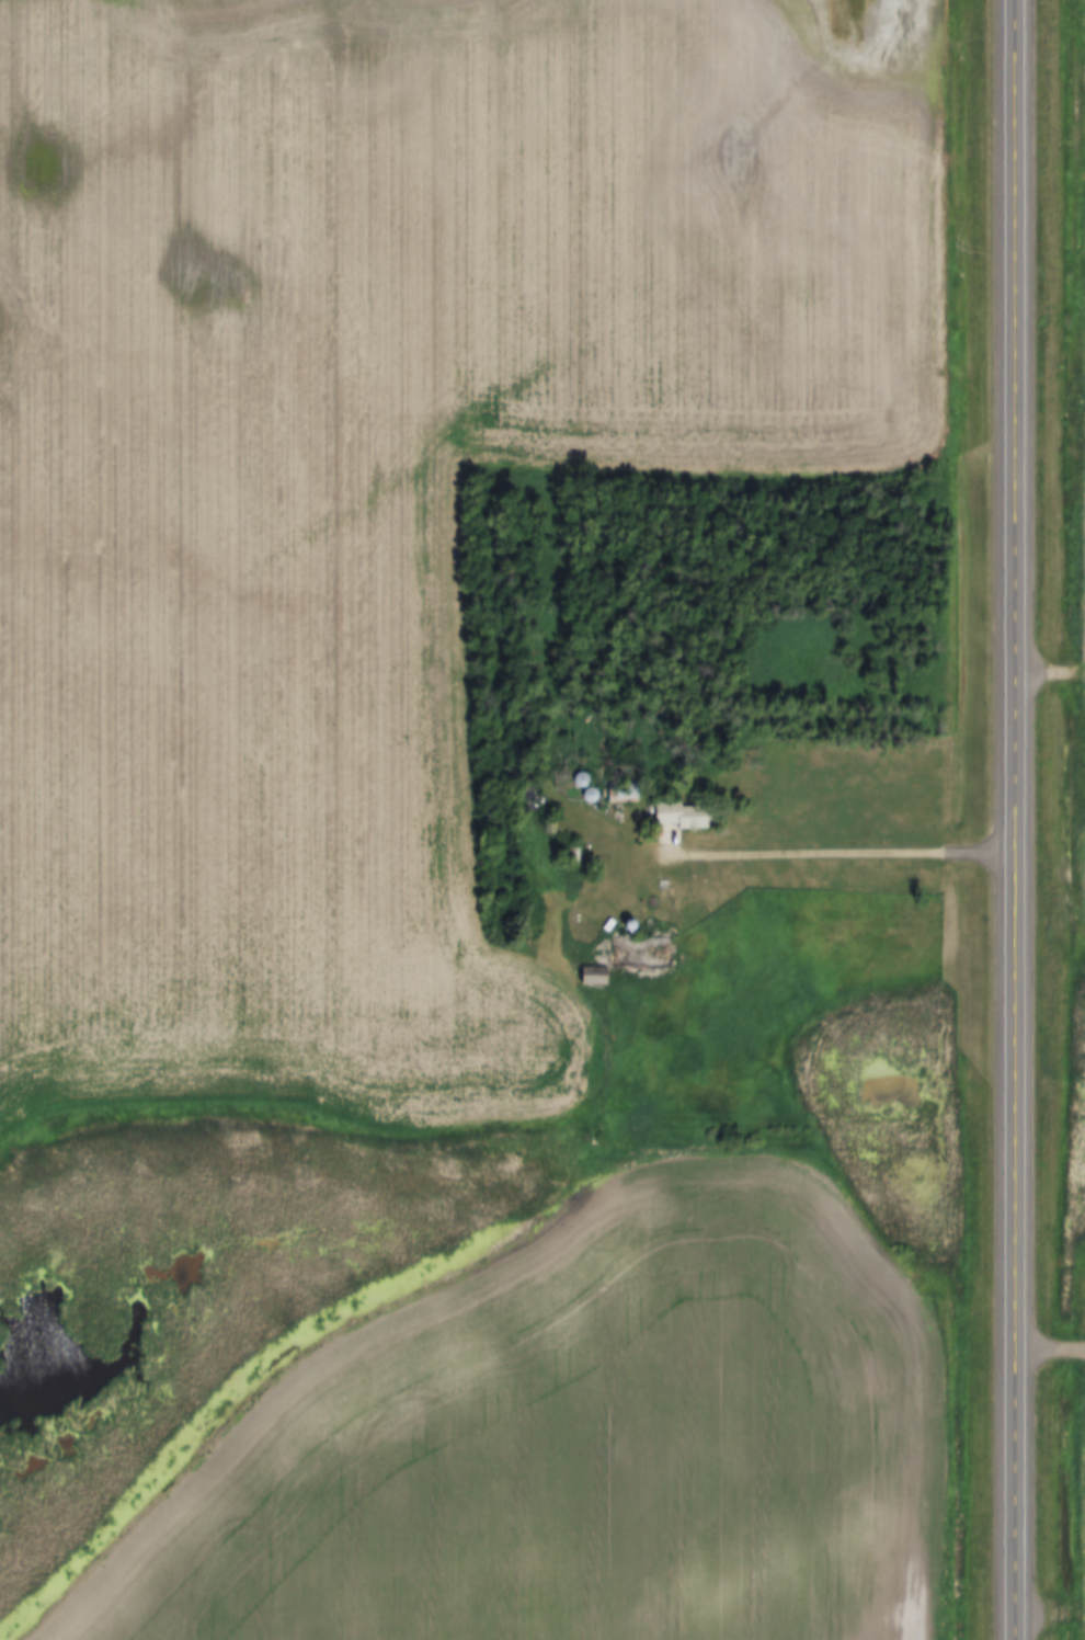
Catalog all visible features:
building: (628, 796)
building: (687, 817)
road: (1026, 820)
road: (852, 855)
building: (637, 959)
road: (1055, 1348)

